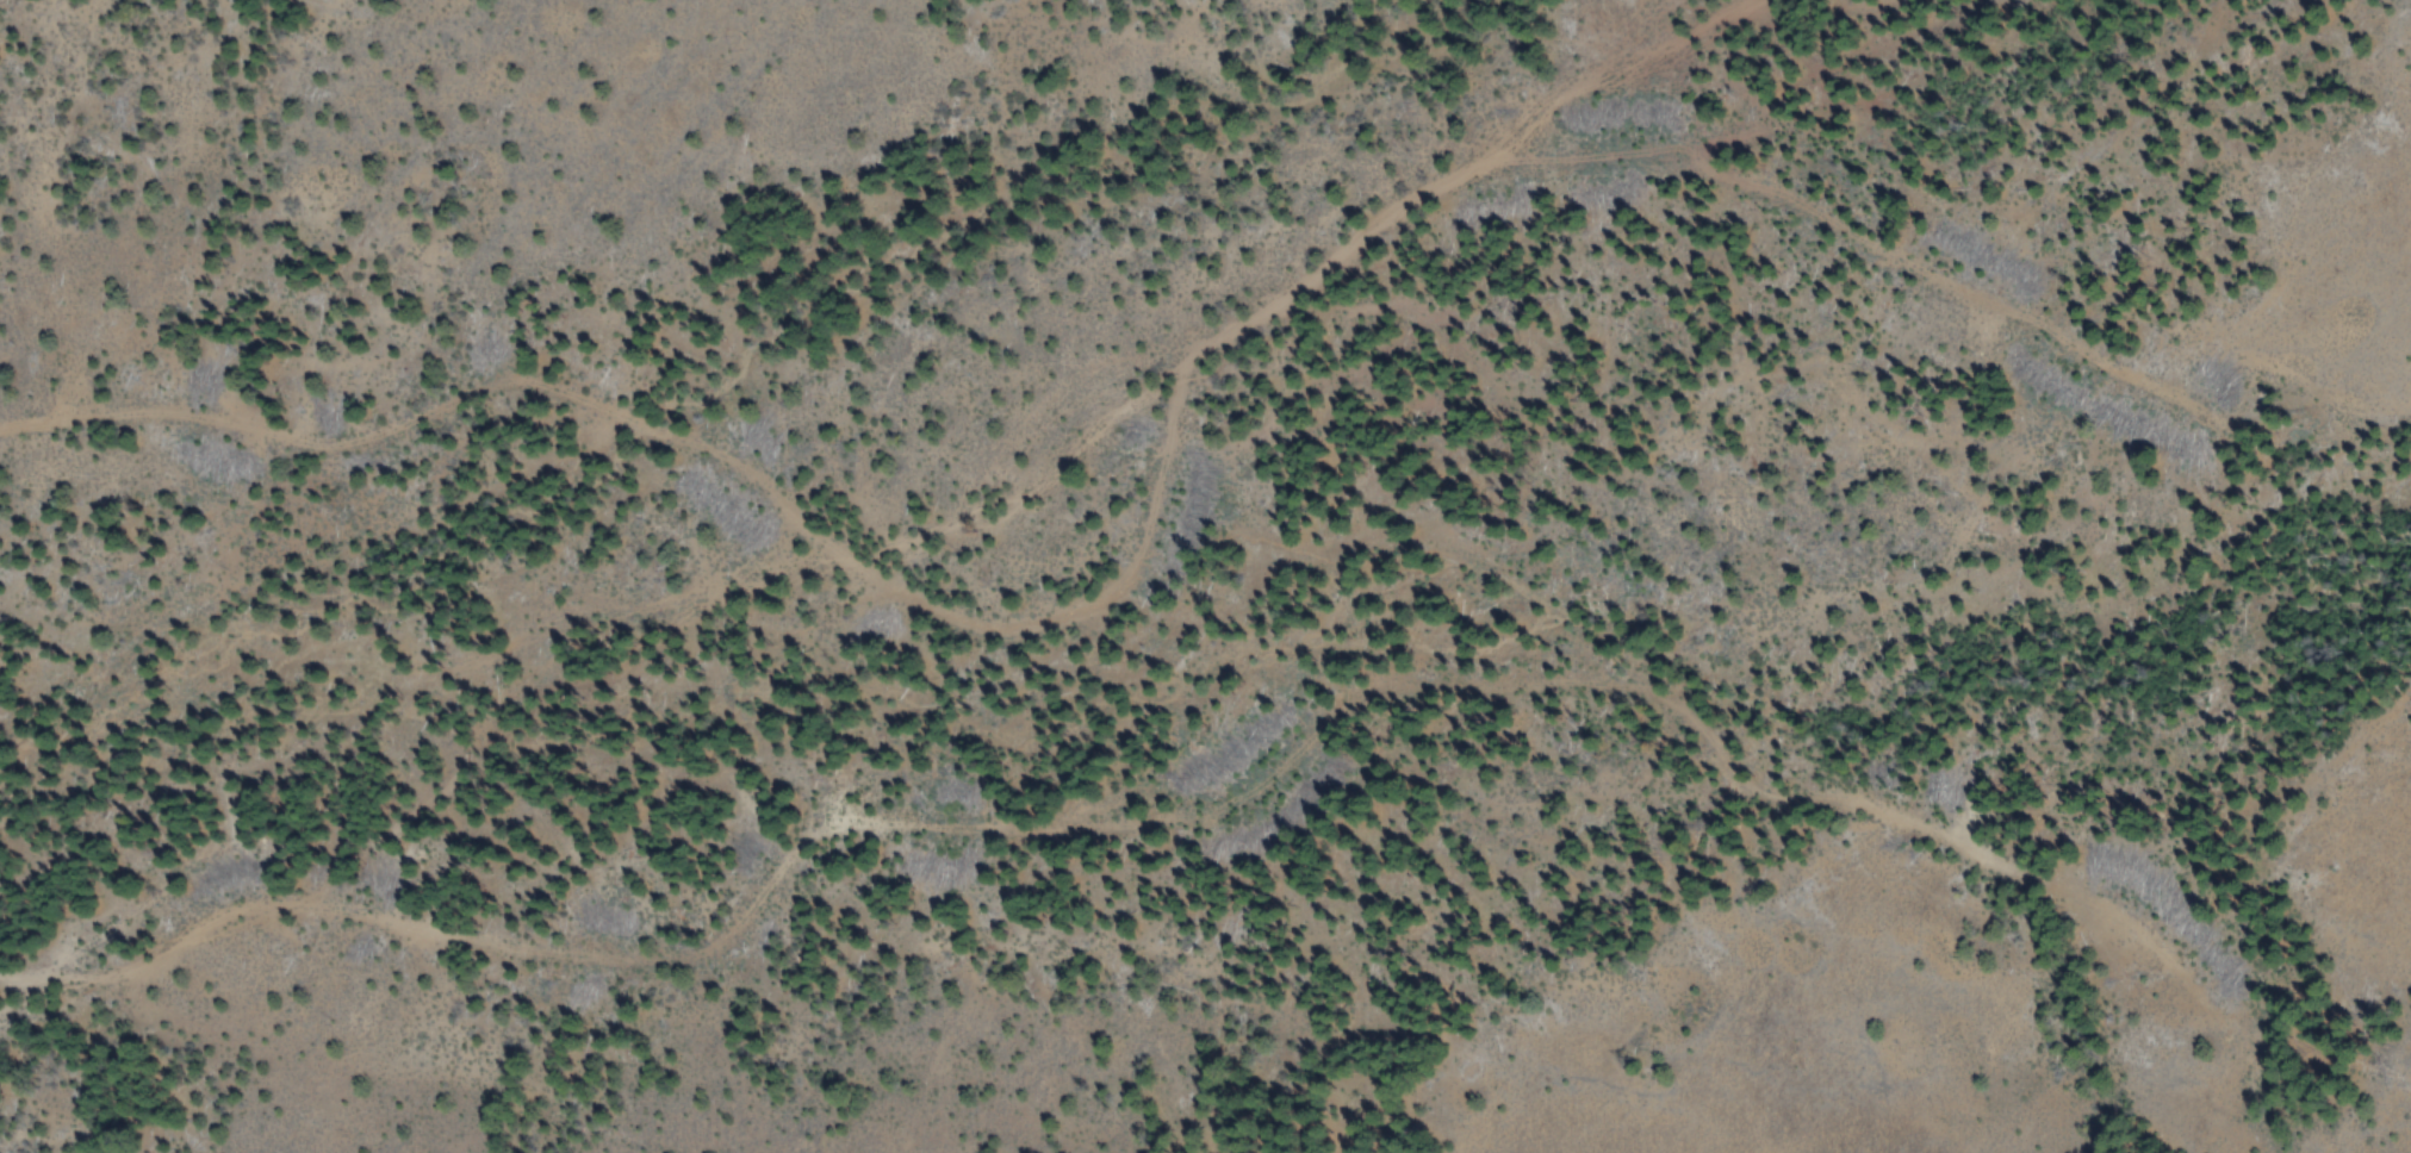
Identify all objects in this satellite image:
road: (1008, 753)

